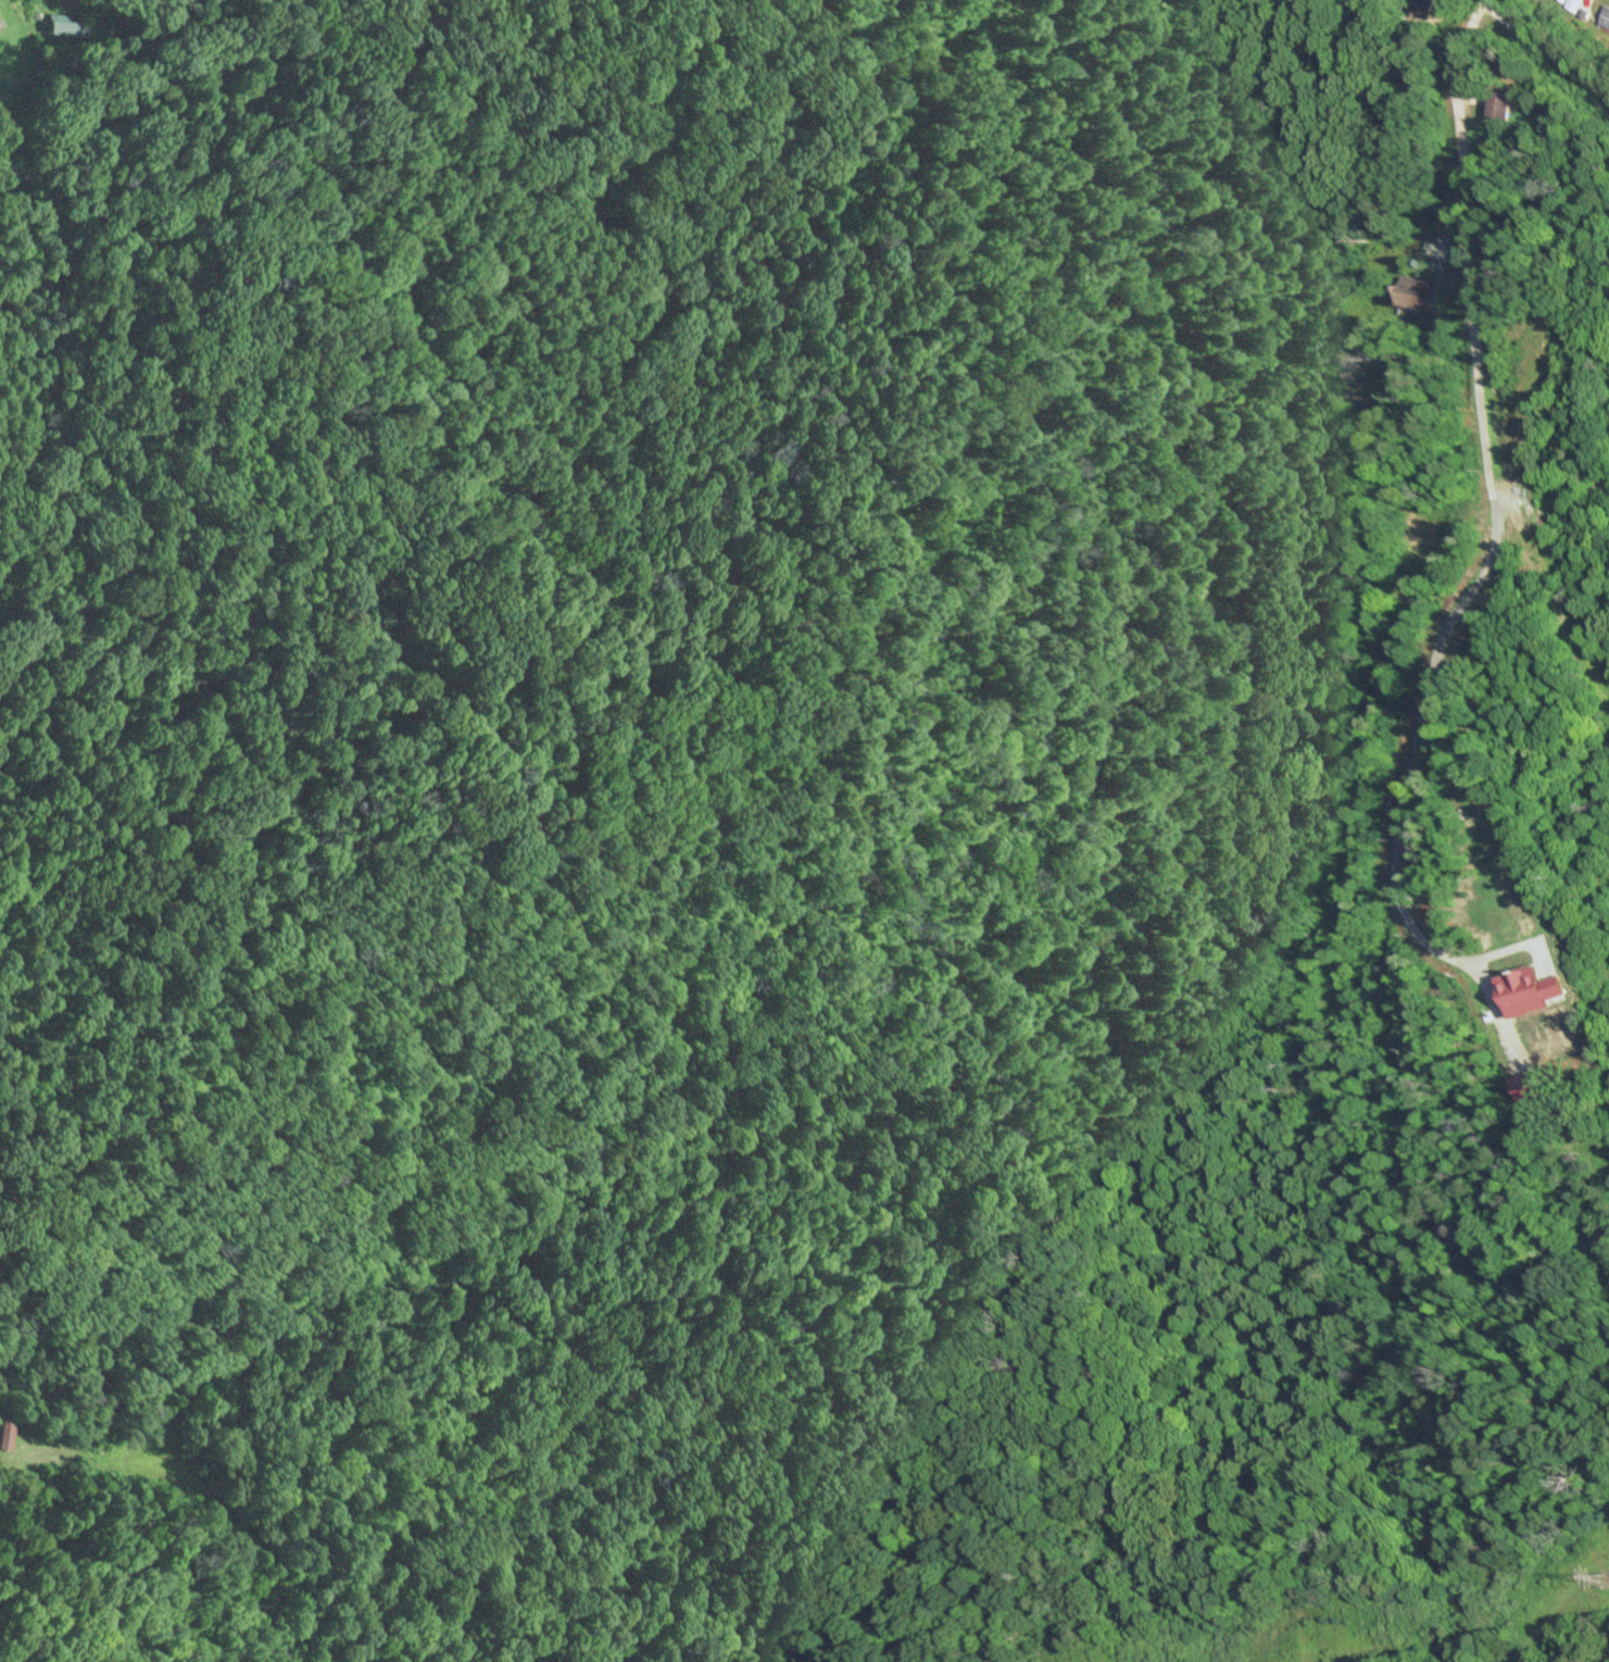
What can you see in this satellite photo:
building: (1422, 5)
building: (1604, 18)
road: (1545, 55)
building: (1496, 105)
road: (1457, 159)
building: (1415, 292)
building: (1528, 992)
building: (1524, 1087)

